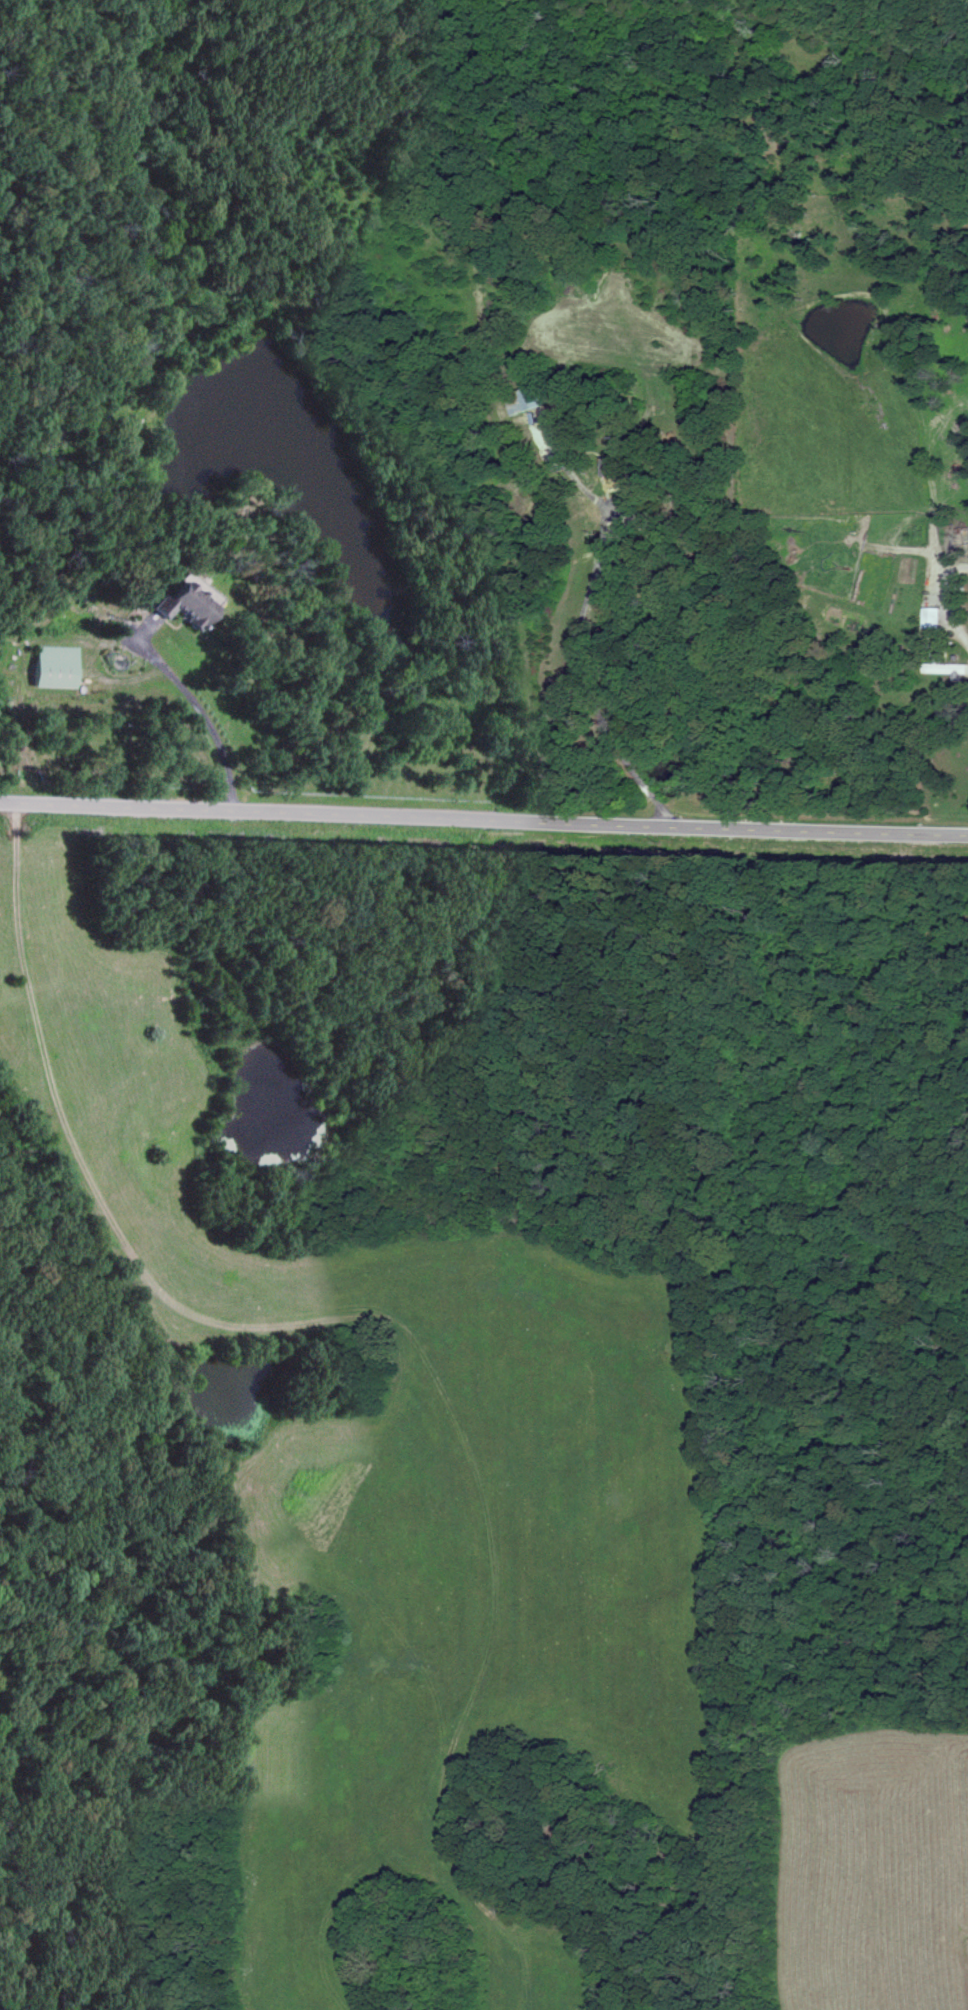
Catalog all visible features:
building: (522, 403)
building: (558, 434)
building: (612, 468)
building: (184, 605)
road: (956, 631)
road: (568, 646)
building: (941, 662)
building: (57, 669)
road: (202, 723)
road: (484, 816)
road: (14, 896)

